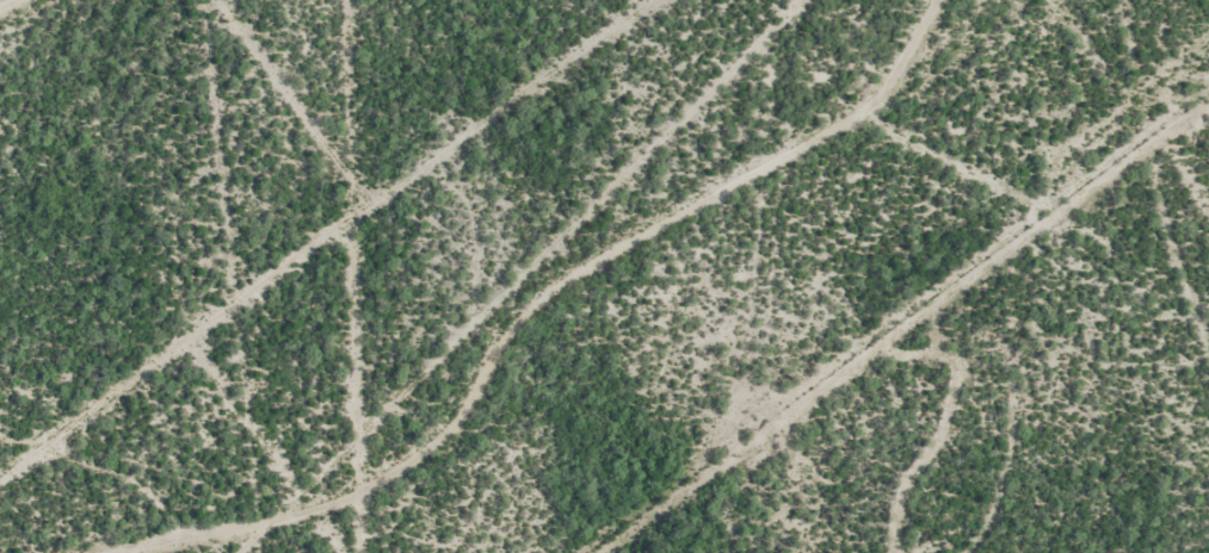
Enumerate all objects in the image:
road: (1176, 119)

